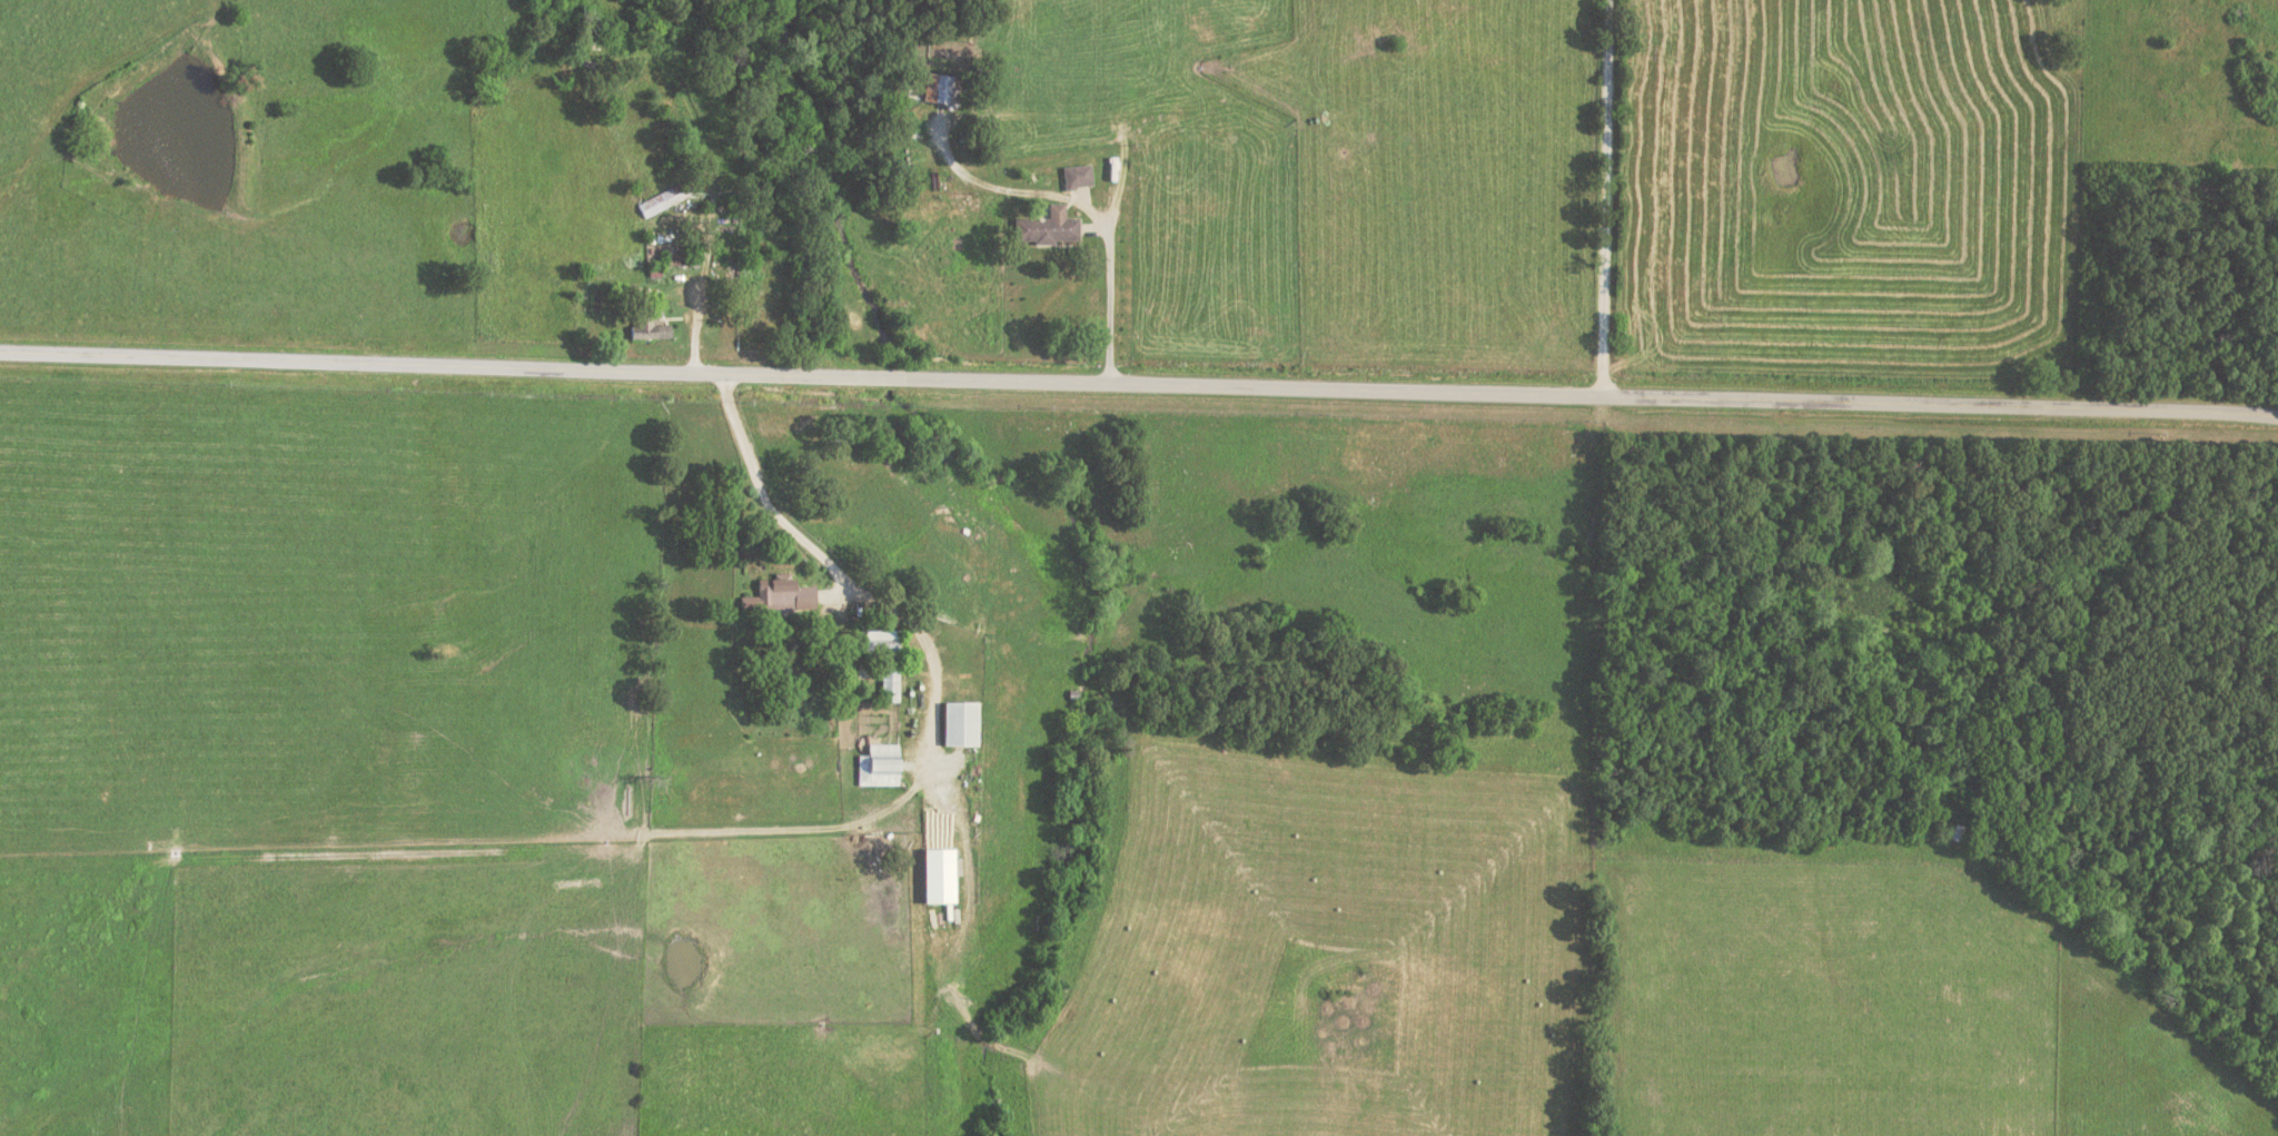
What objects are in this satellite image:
road: (100, 80)
building: (940, 88)
building: (1077, 176)
road: (1607, 198)
building: (1046, 227)
road: (1109, 283)
building: (646, 326)
road: (1139, 383)
building: (779, 594)
building: (880, 641)
building: (888, 683)
road: (933, 712)
building: (959, 723)
building: (878, 764)
road: (673, 826)
building: (937, 876)

